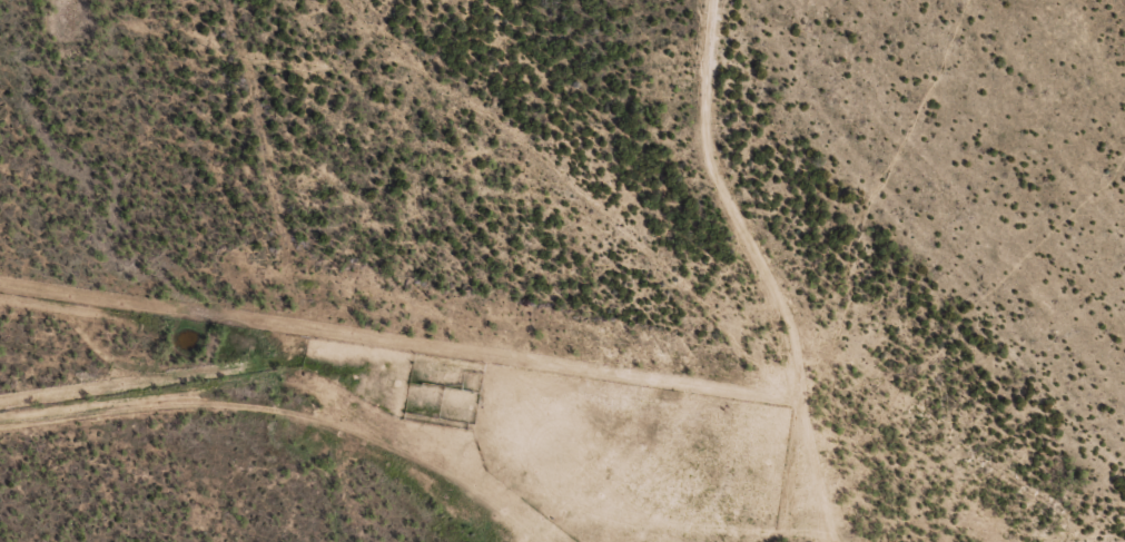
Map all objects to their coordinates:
road: (798, 273)

